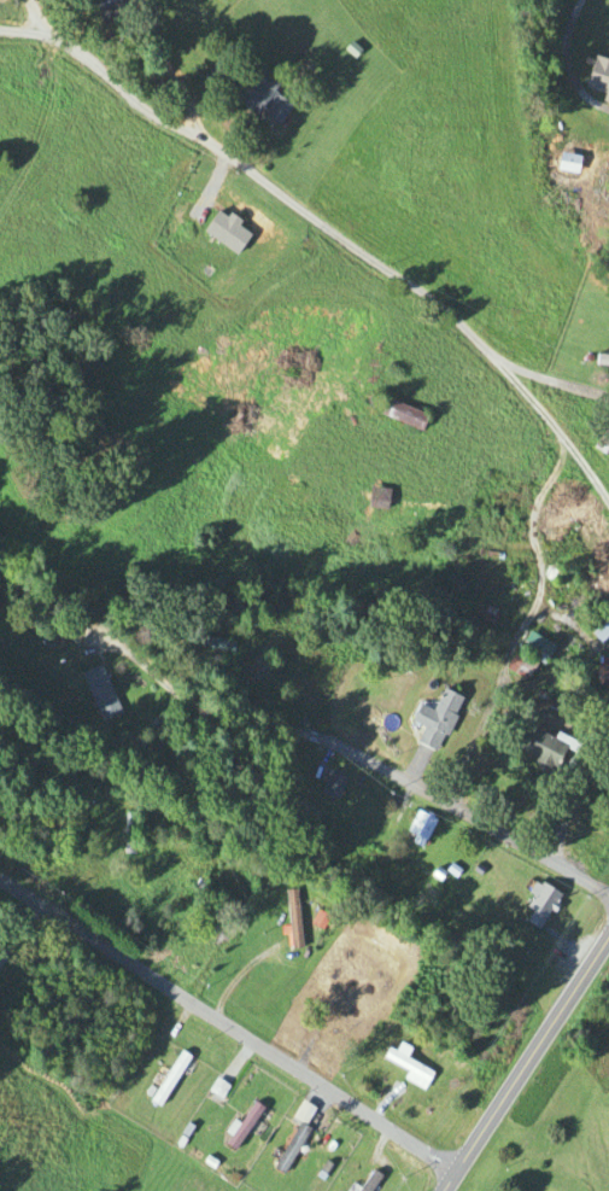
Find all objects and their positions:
road: (31, 18)
road: (566, 63)
building: (598, 78)
building: (260, 99)
road: (305, 215)
building: (601, 361)
building: (402, 414)
road: (554, 433)
building: (601, 448)
building: (377, 498)
road: (514, 584)
building: (597, 626)
building: (207, 643)
building: (293, 650)
building: (527, 656)
building: (601, 673)
road: (468, 688)
building: (99, 694)
building: (434, 720)
building: (541, 748)
building: (92, 781)
building: (330, 787)
road: (465, 815)
building: (417, 830)
building: (128, 834)
building: (211, 898)
building: (538, 905)
building: (291, 921)
road: (227, 1028)
road: (526, 1064)
building: (406, 1067)
building: (169, 1079)
building: (242, 1127)
building: (291, 1150)
building: (369, 1183)

